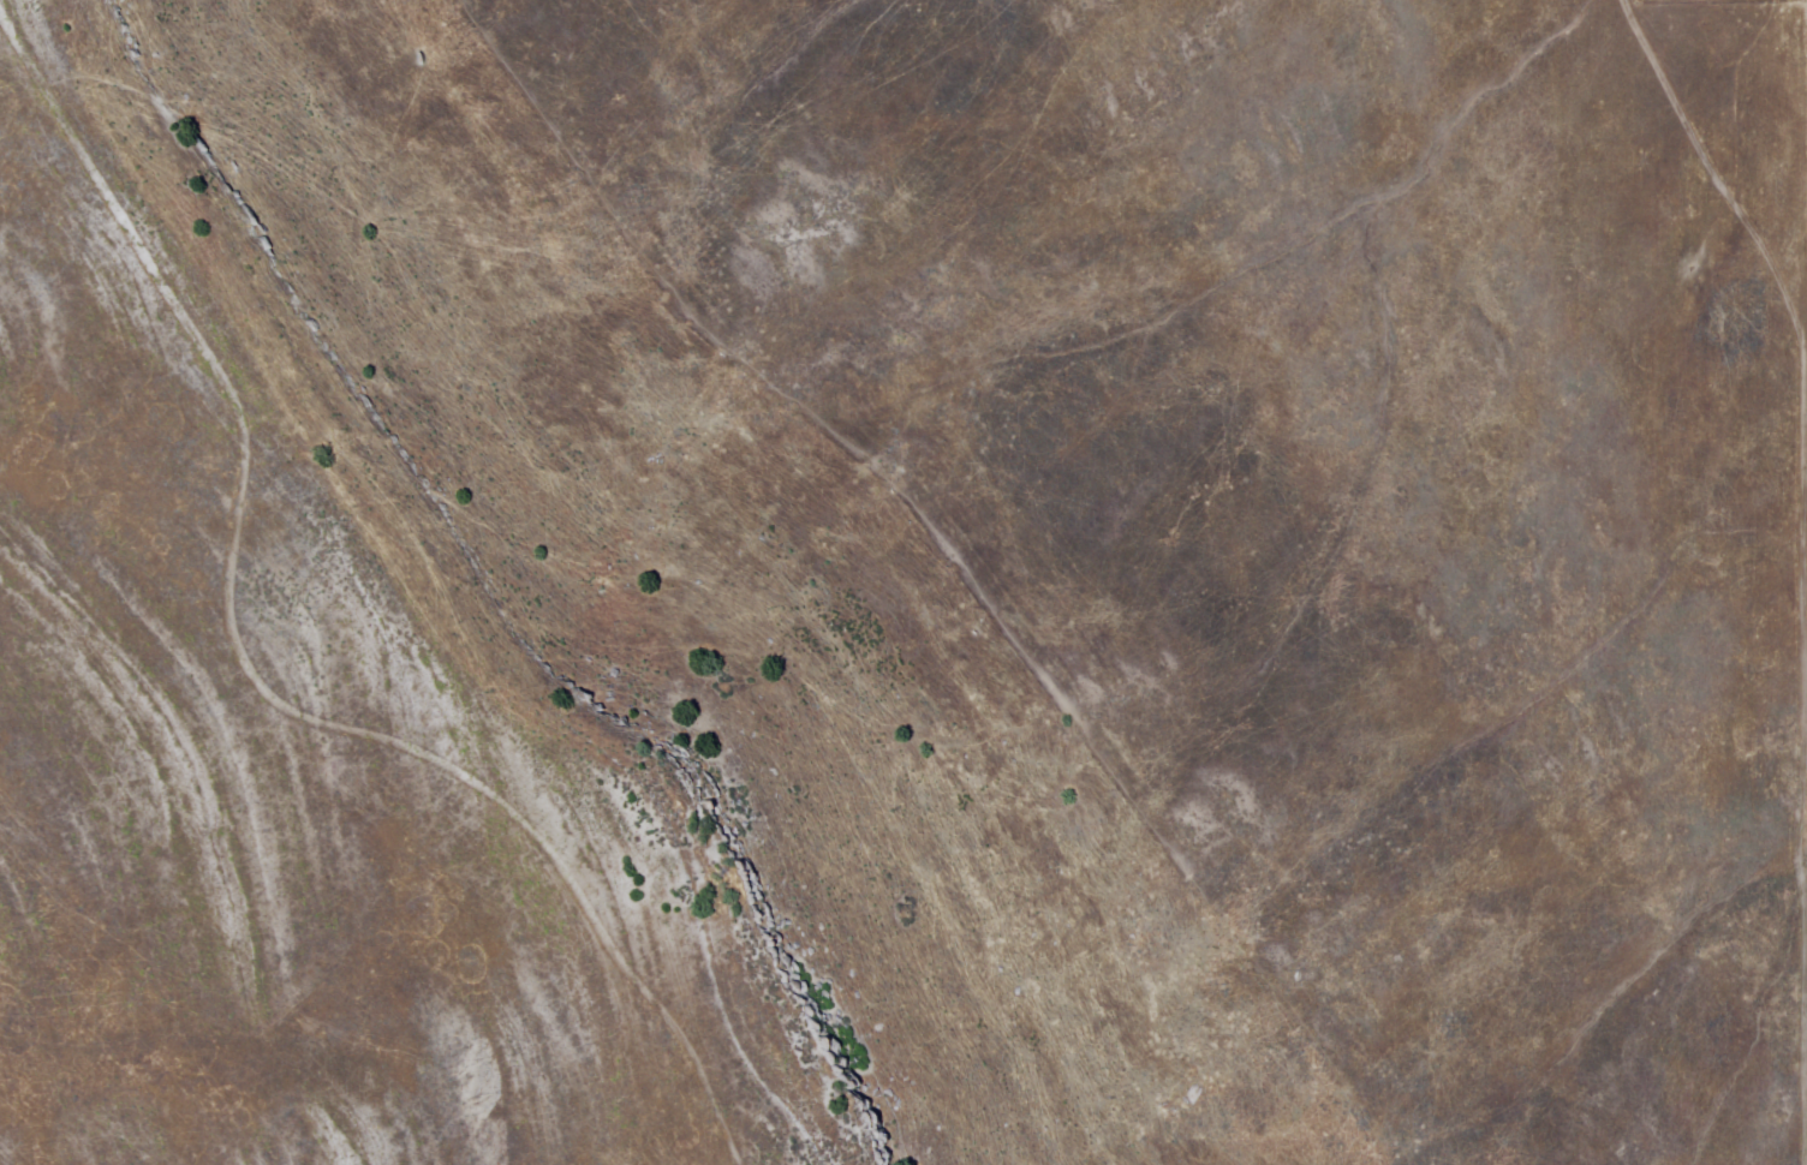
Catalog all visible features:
road: (1806, 1157)

